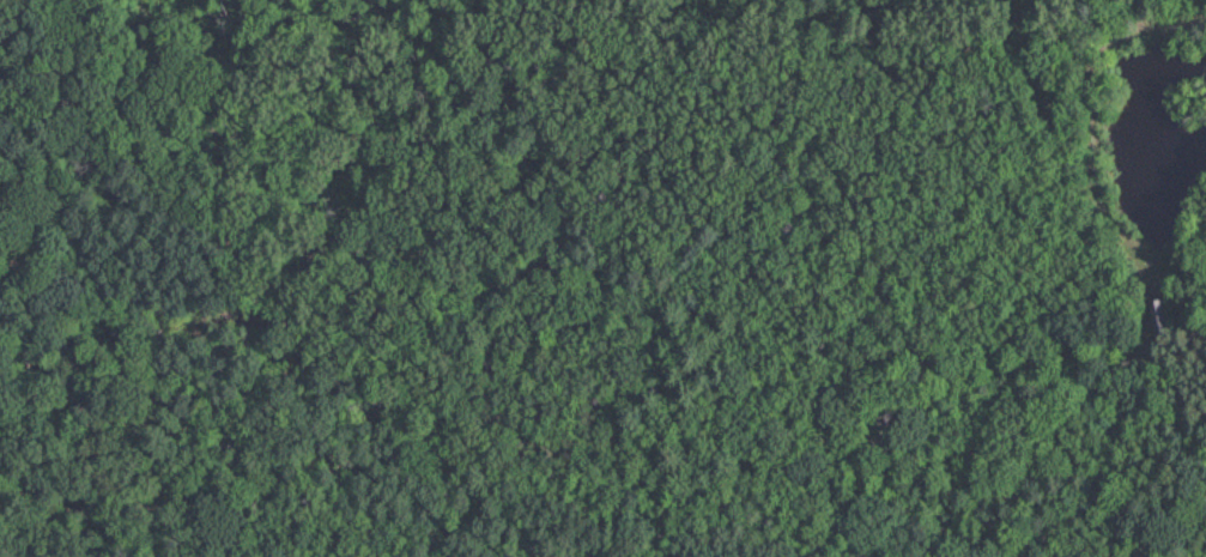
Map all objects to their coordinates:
building: (1152, 314)

